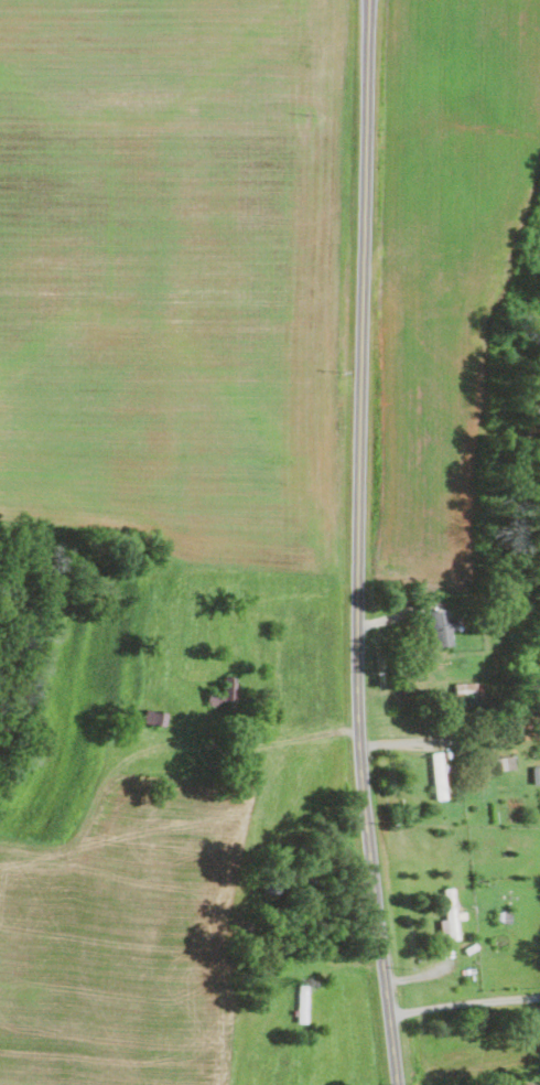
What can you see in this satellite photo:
road: (359, 544)
building: (442, 627)
building: (468, 690)
building: (154, 718)
road: (239, 748)
building: (536, 774)
building: (439, 776)
building: (450, 915)
road: (464, 1001)

